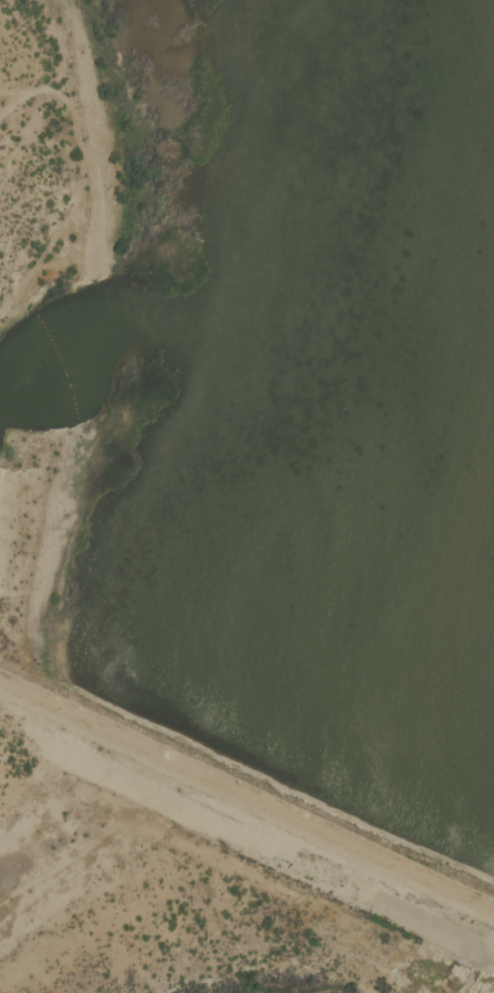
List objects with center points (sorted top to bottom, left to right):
dam: (5, 495)
river: (390, 623)
dam: (247, 782)

